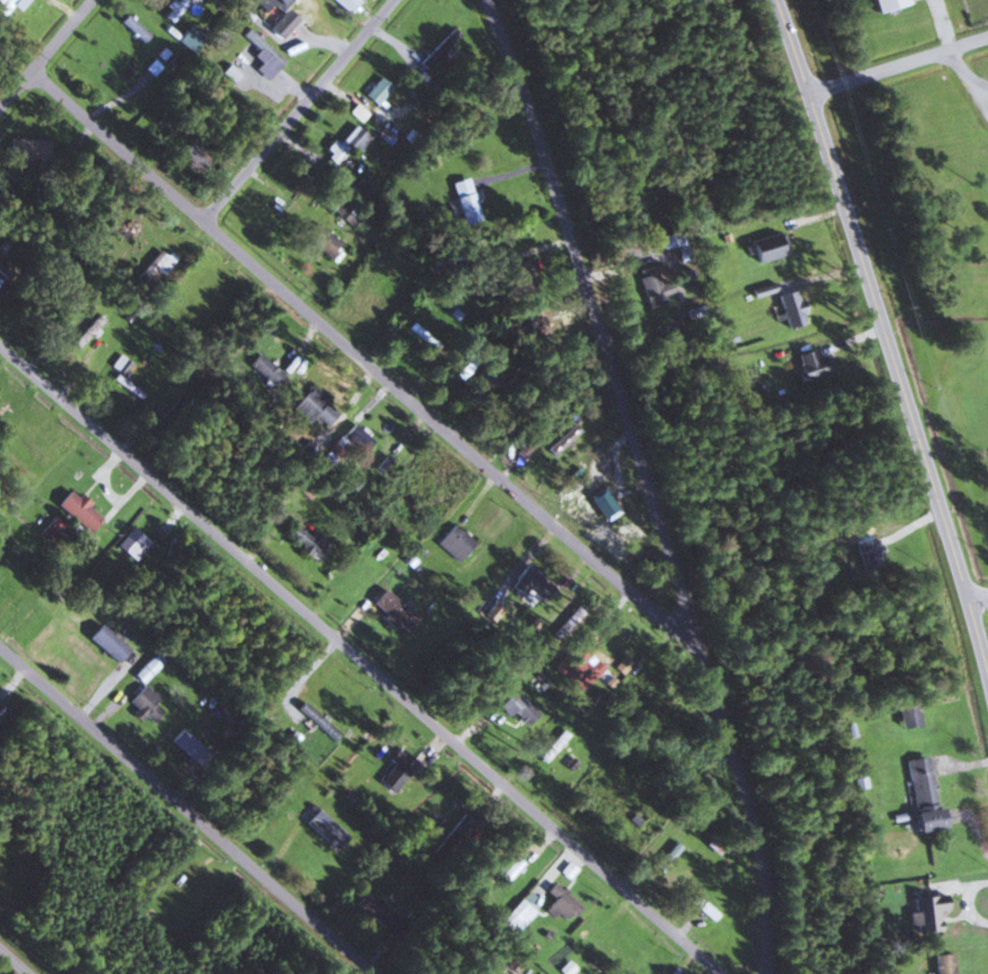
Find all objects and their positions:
building: (197, 0)
building: (345, 4)
building: (882, 4)
building: (9, 5)
building: (301, 8)
building: (174, 9)
building: (281, 24)
building: (134, 27)
building: (262, 47)
road: (43, 51)
building: (151, 66)
road: (899, 66)
building: (421, 67)
building: (230, 73)
road: (965, 73)
building: (377, 90)
road: (983, 97)
road: (302, 112)
building: (357, 112)
building: (345, 144)
building: (27, 148)
road: (116, 148)
building: (192, 158)
building: (464, 201)
building: (345, 211)
building: (319, 240)
building: (669, 241)
building: (766, 247)
building: (154, 266)
road: (828, 275)
building: (651, 289)
building: (789, 309)
building: (536, 323)
building: (52, 329)
building: (85, 331)
road: (853, 340)
road: (886, 344)
building: (120, 364)
building: (809, 367)
building: (265, 369)
building: (489, 379)
building: (314, 407)
road: (446, 437)
building: (356, 439)
building: (561, 439)
building: (531, 440)
road: (644, 481)
building: (348, 483)
building: (77, 511)
building: (57, 535)
building: (455, 542)
building: (132, 543)
building: (864, 545)
building: (811, 589)
road: (976, 597)
building: (391, 610)
building: (106, 642)
road: (357, 667)
building: (579, 667)
building: (146, 668)
building: (145, 704)
building: (517, 707)
building: (907, 714)
building: (312, 718)
building: (660, 718)
building: (187, 744)
building: (551, 744)
building: (395, 757)
building: (922, 792)
road: (186, 813)
building: (325, 829)
building: (450, 835)
building: (714, 846)
building: (666, 858)
building: (567, 870)
building: (508, 871)
building: (560, 903)
building: (702, 908)
building: (927, 911)
building: (379, 913)
building: (515, 917)
road: (13, 962)
building: (943, 963)

